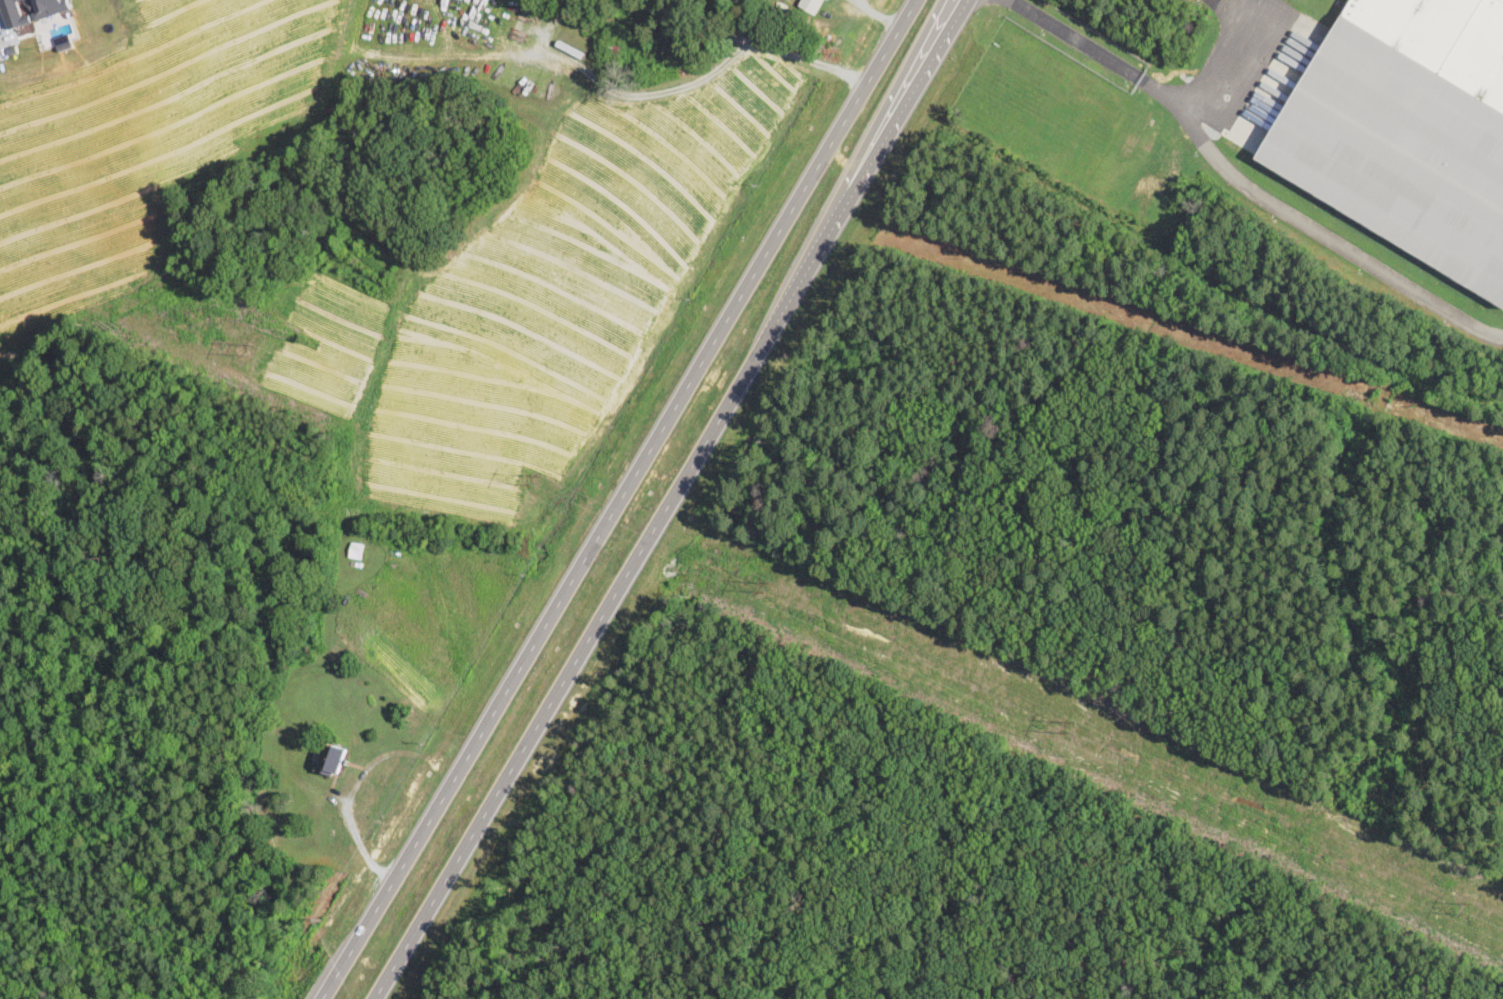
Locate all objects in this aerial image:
building: (811, 6)
building: (673, 30)
road: (1227, 37)
building: (613, 50)
building: (1407, 129)
road: (865, 176)
road: (1243, 190)
power tower: (247, 347)
road: (618, 499)
power tower: (631, 522)
road: (565, 674)
power tower: (1069, 721)
building: (330, 761)
power tower: (1469, 907)

